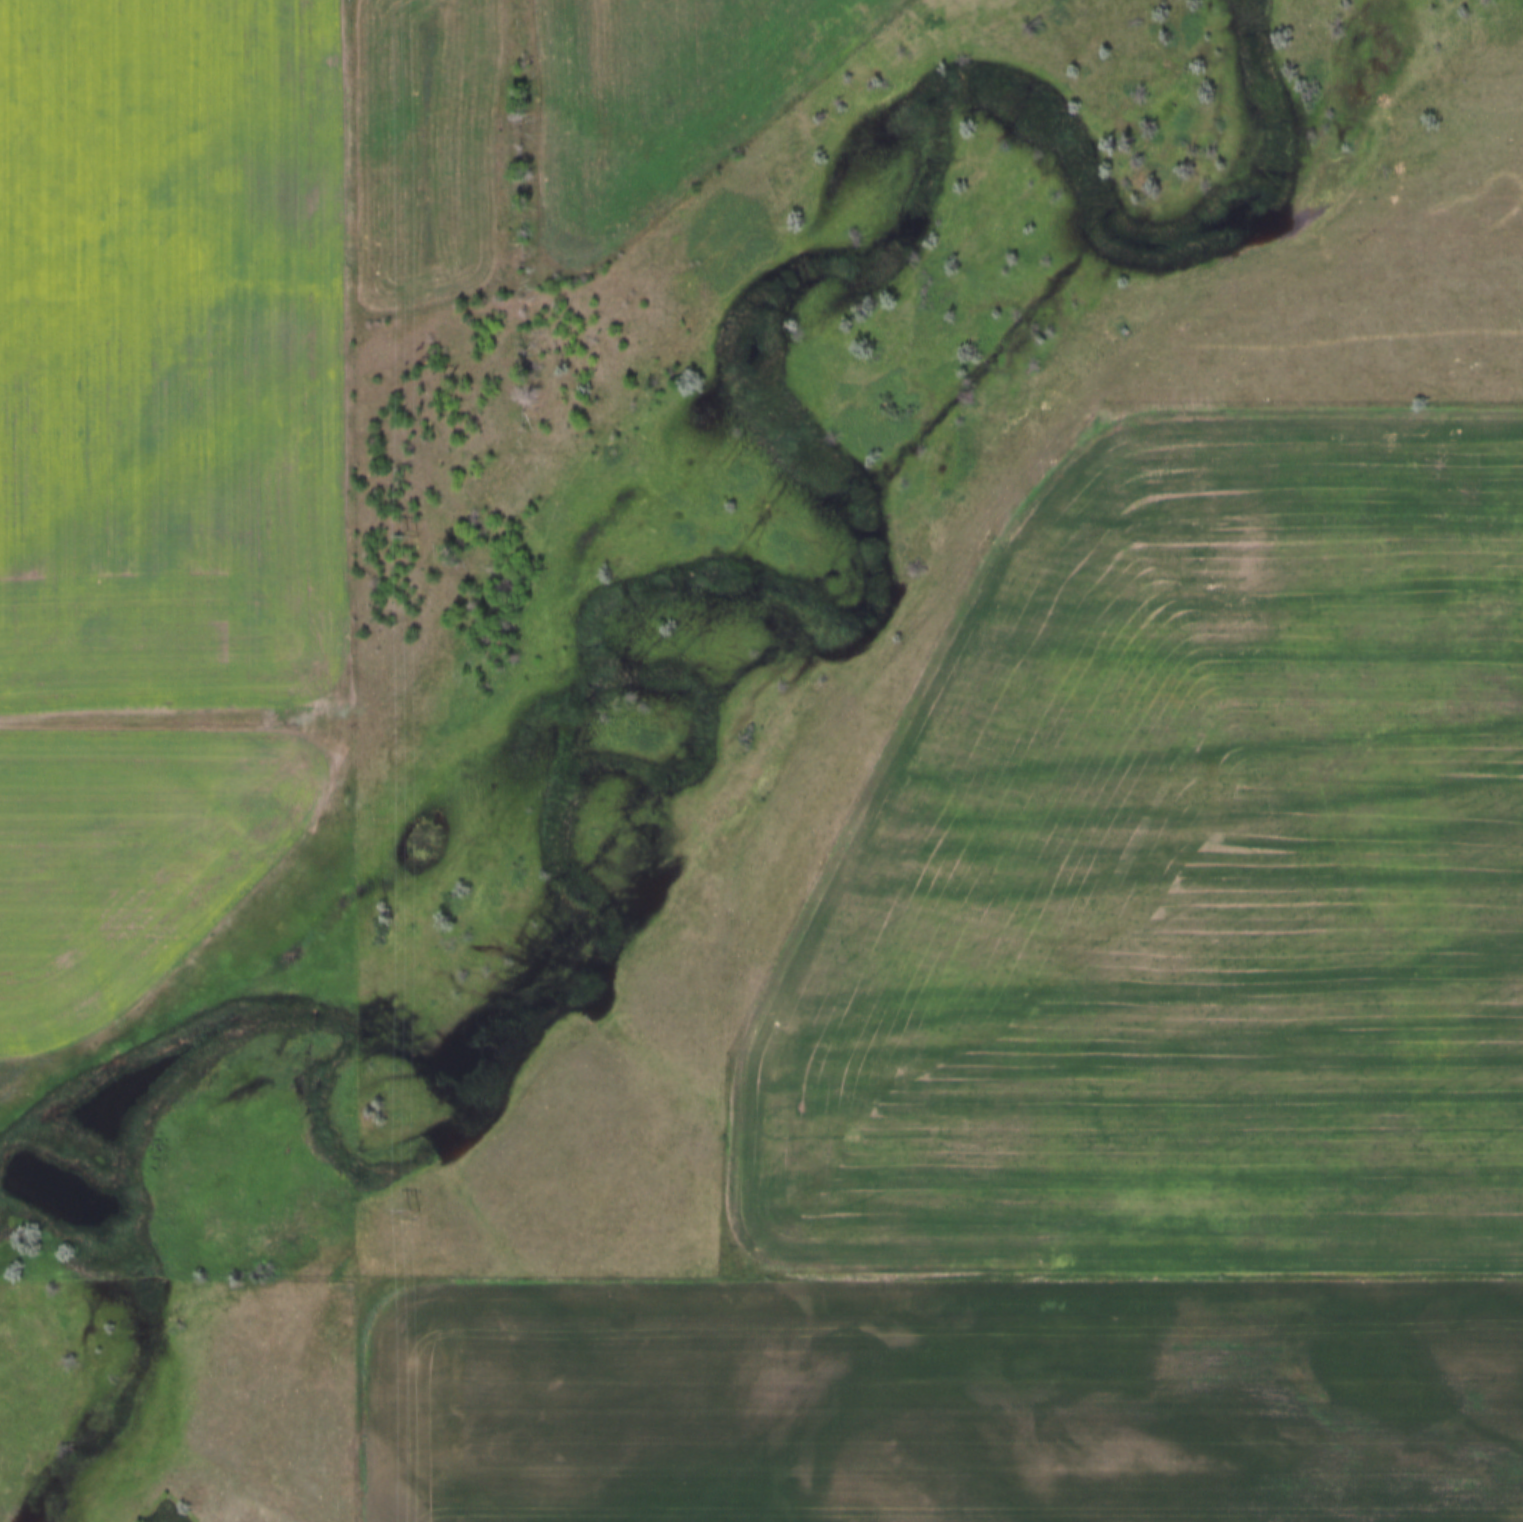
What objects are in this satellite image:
power tower: (412, 536)
power tower: (415, 1210)

